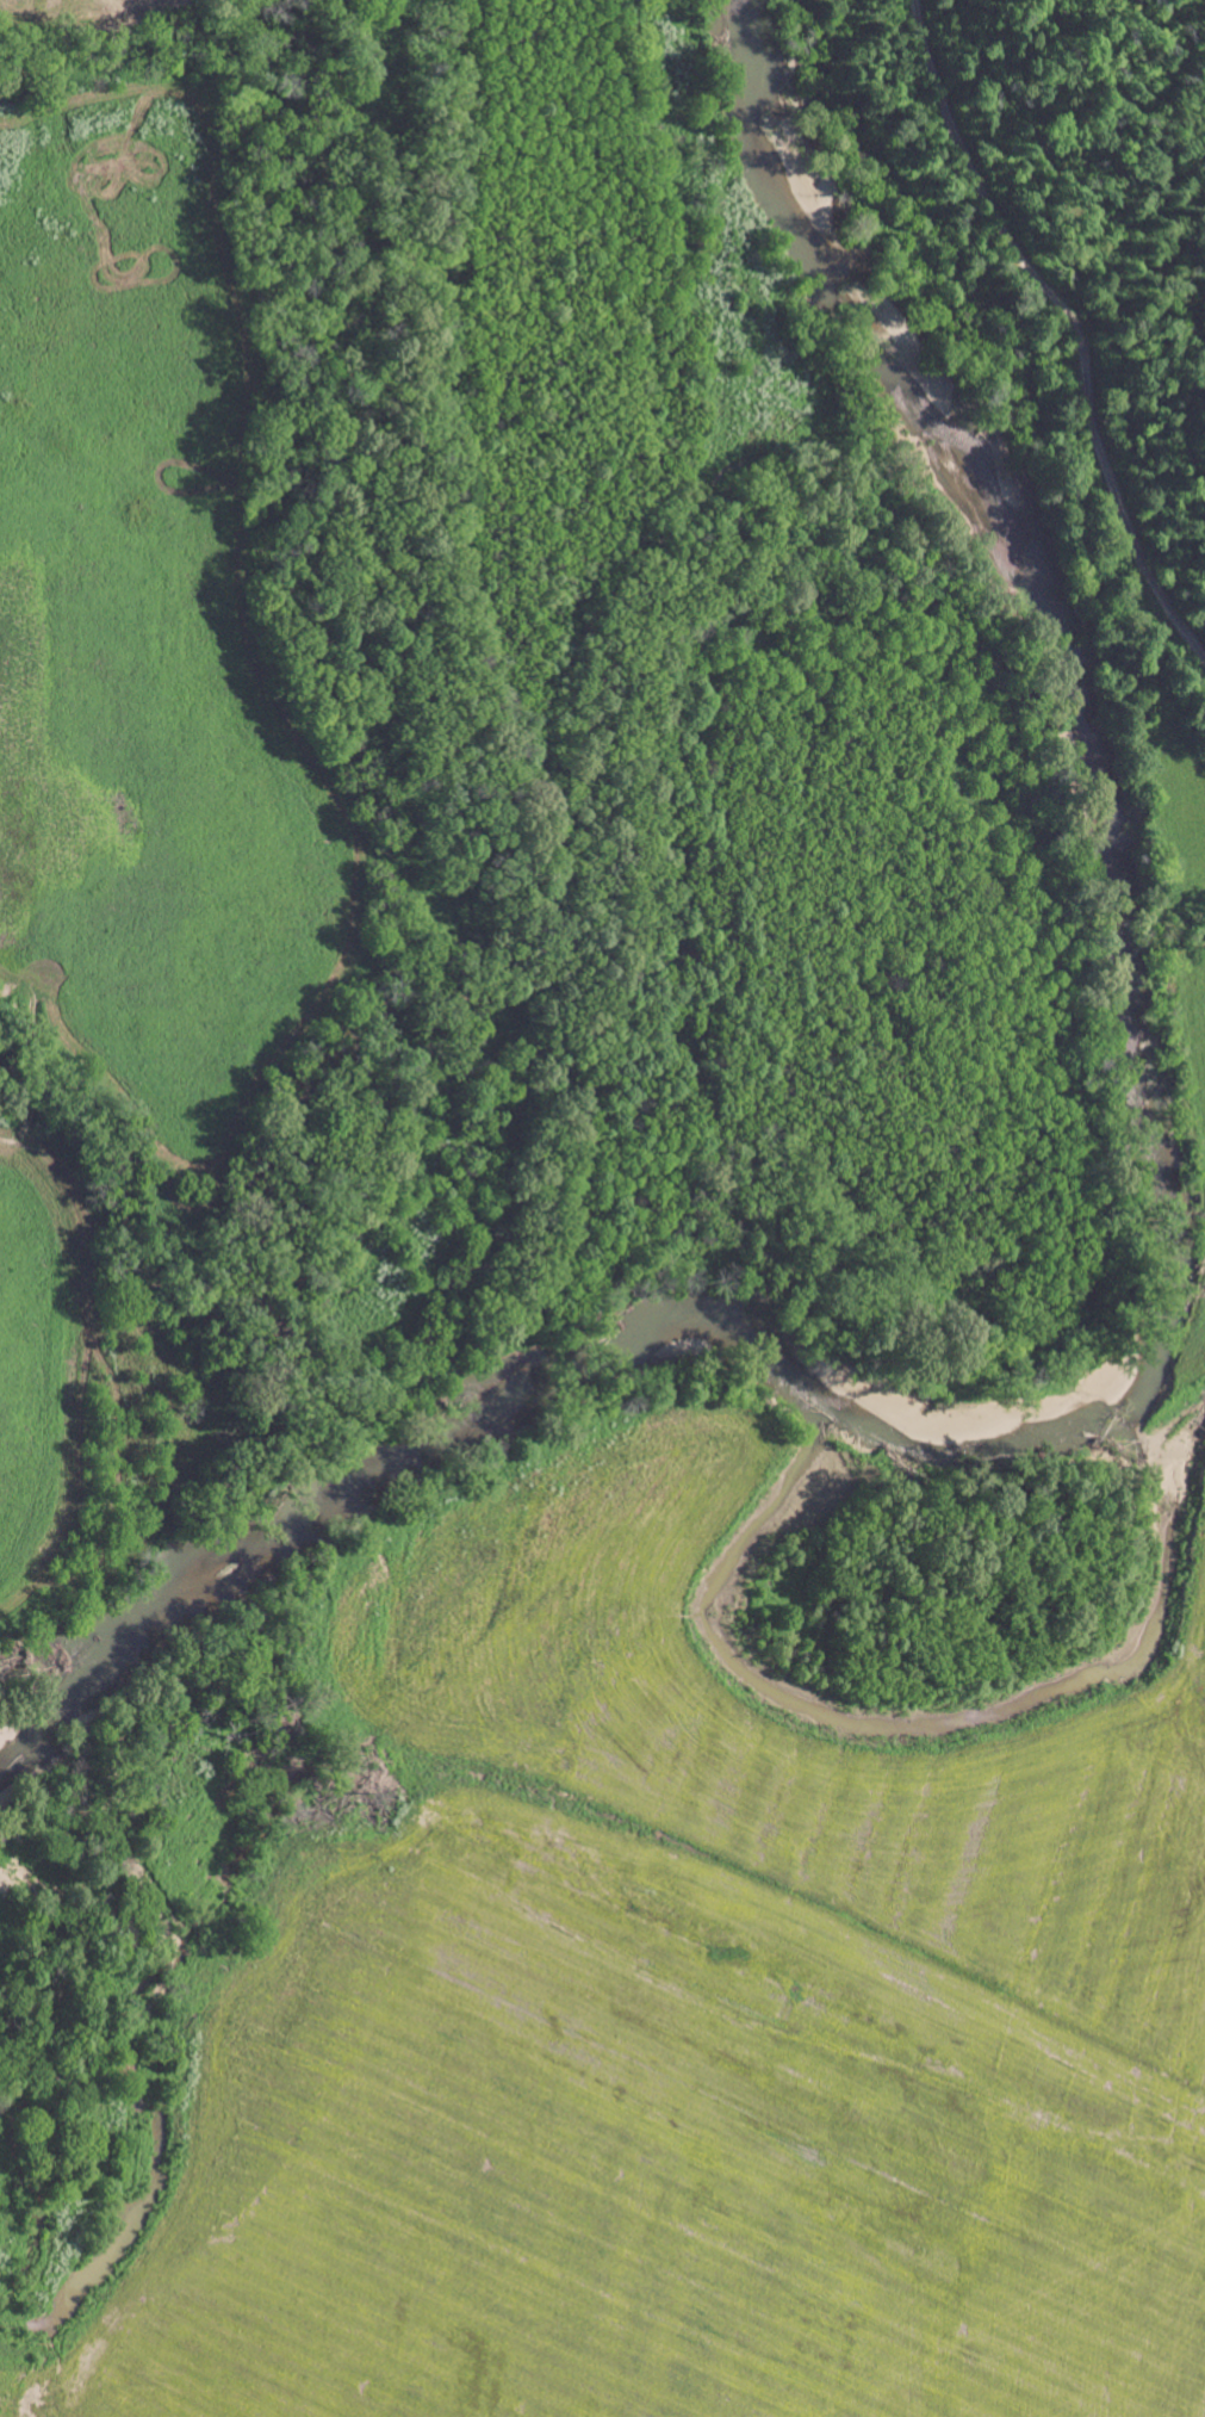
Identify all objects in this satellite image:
road: (1068, 317)
river: (980, 455)
river: (737, 1578)

